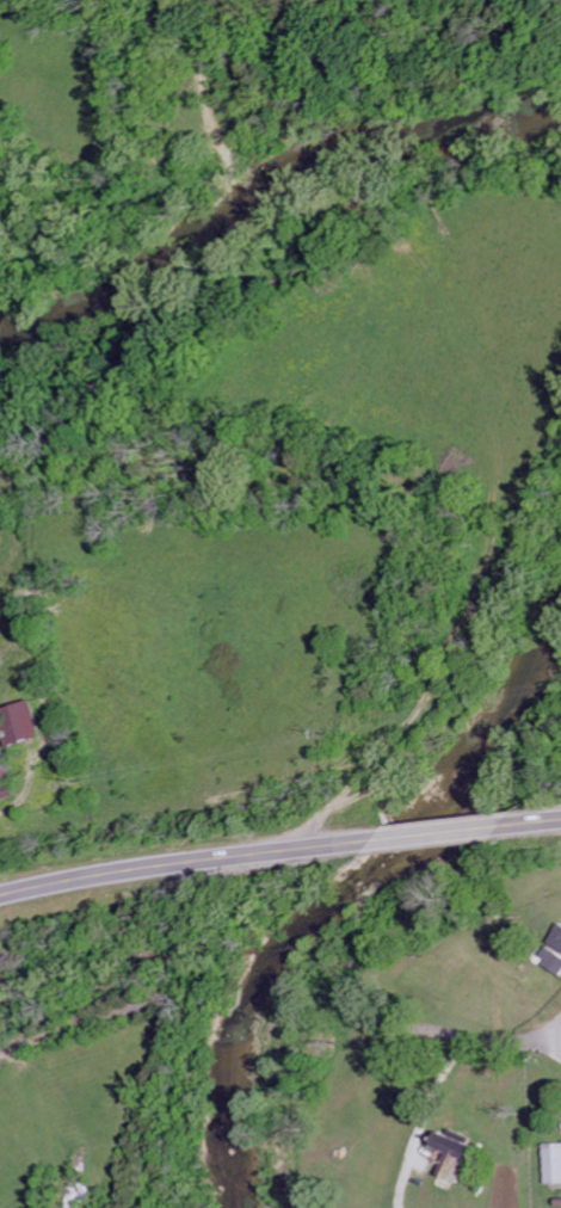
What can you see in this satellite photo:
building: (21, 723)
building: (5, 782)
road: (279, 853)
building: (557, 937)
building: (553, 959)
road: (500, 1031)
road: (419, 1115)
building: (455, 1154)
building: (553, 1164)

